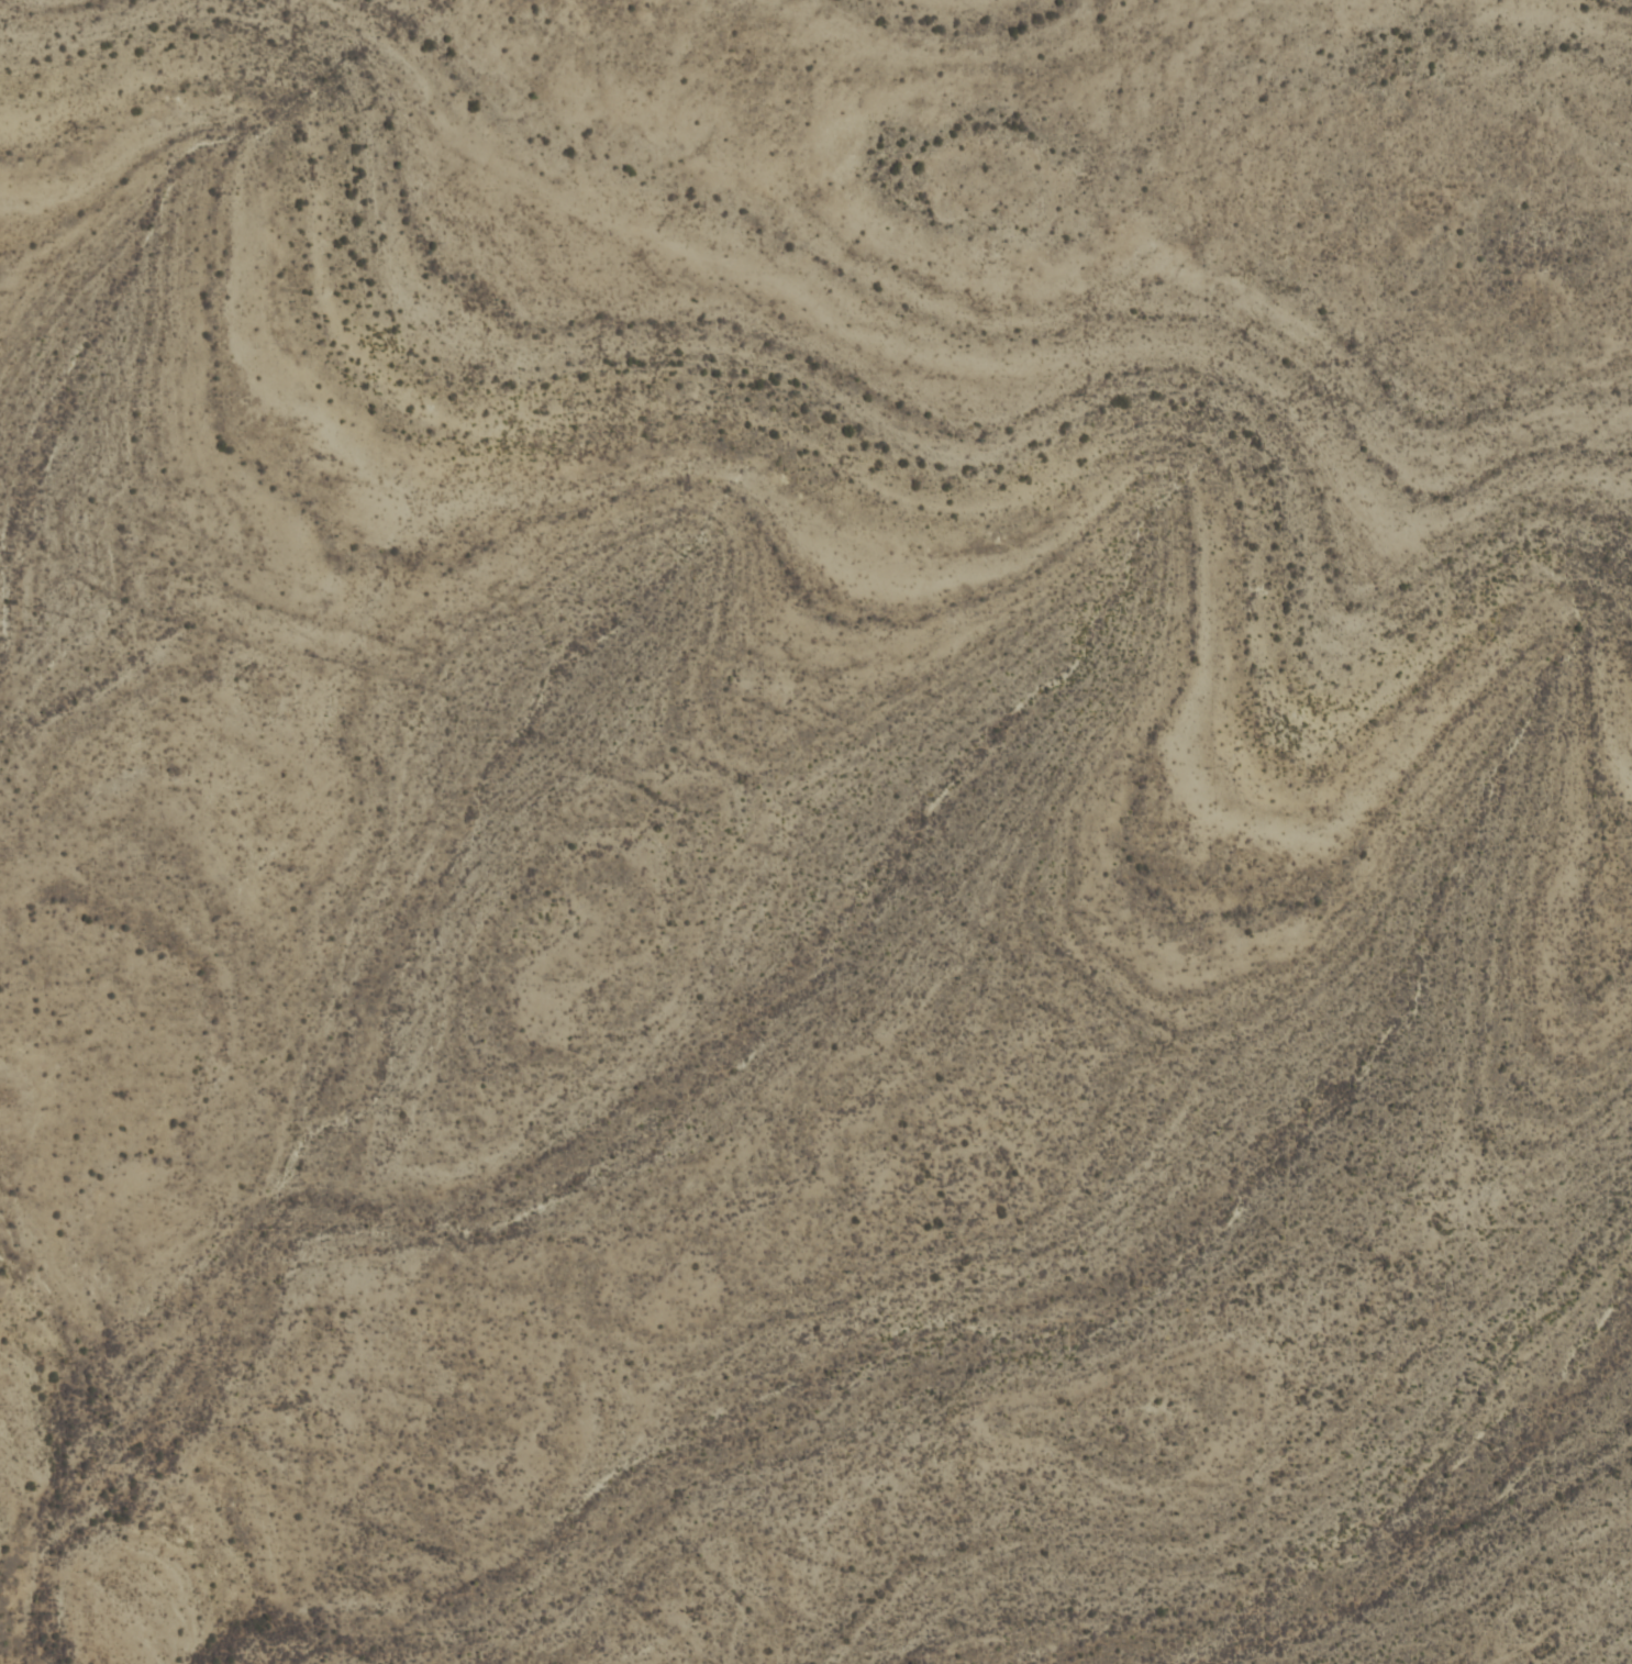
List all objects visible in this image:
park: (1407, 843)

